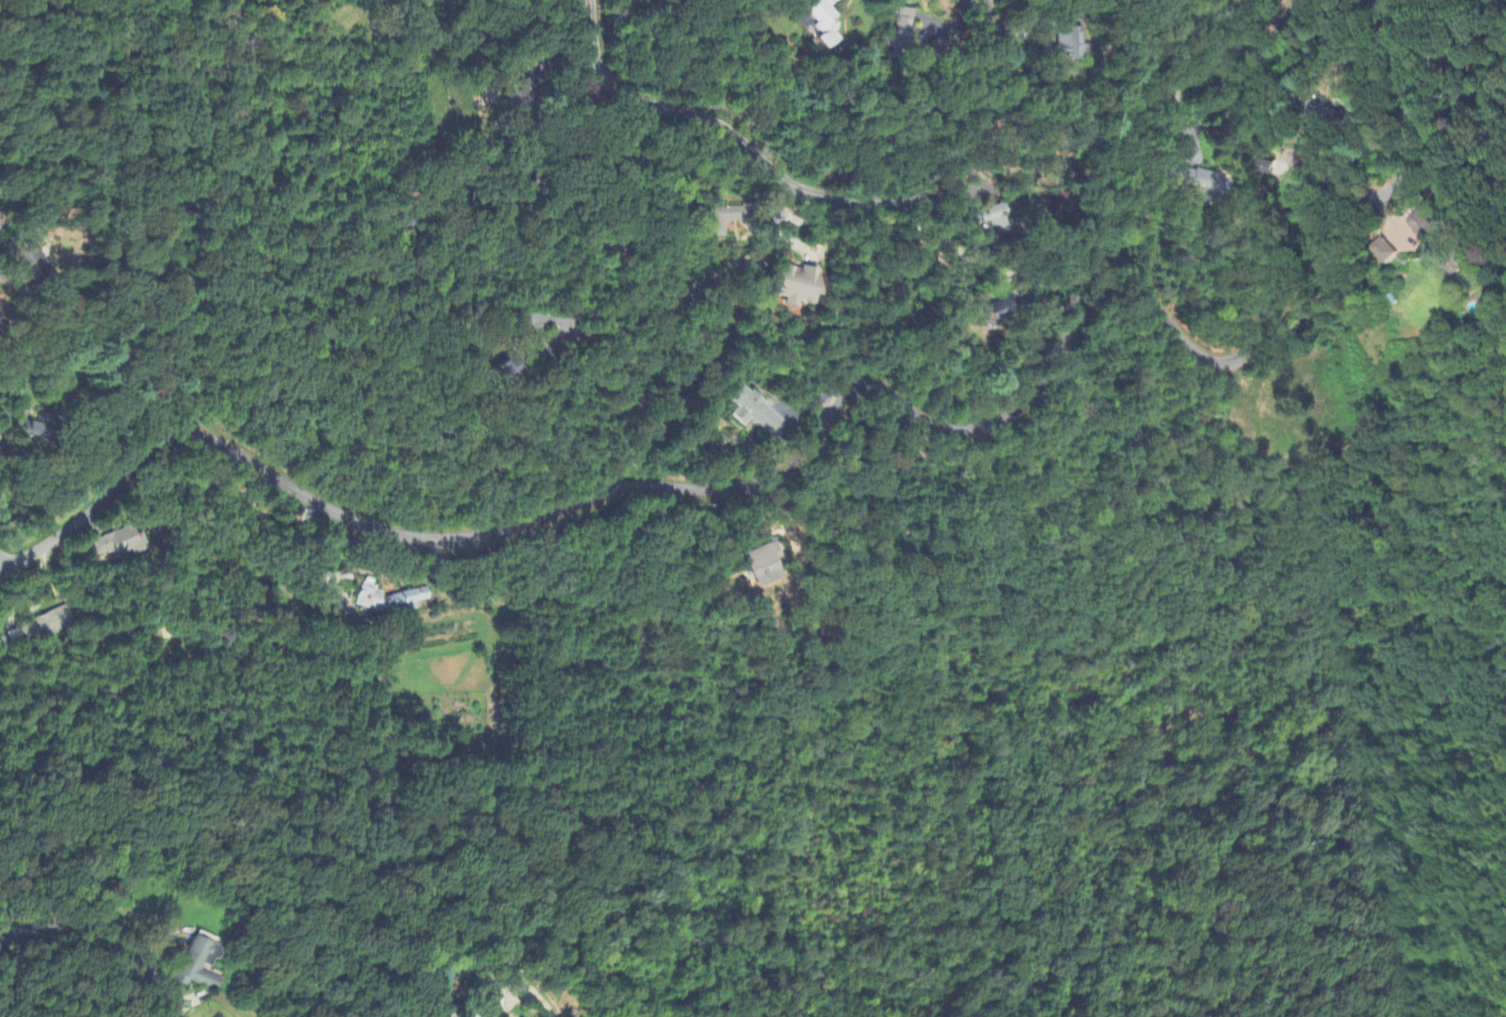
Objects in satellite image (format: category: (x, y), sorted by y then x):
road: (991, 8)
building: (824, 21)
building: (904, 26)
road: (1011, 41)
building: (1071, 44)
road: (1341, 49)
road: (543, 74)
road: (1162, 88)
building: (523, 93)
road: (784, 176)
building: (1199, 184)
building: (724, 219)
road: (889, 221)
building: (1422, 228)
building: (1, 230)
building: (1386, 252)
building: (36, 261)
building: (1459, 263)
building: (798, 286)
road: (32, 290)
road: (694, 291)
building: (505, 372)
road: (845, 401)
building: (754, 412)
building: (121, 544)
road: (8, 559)
building: (763, 566)
building: (390, 599)
building: (52, 624)
road: (109, 926)
building: (199, 966)
road: (536, 998)

